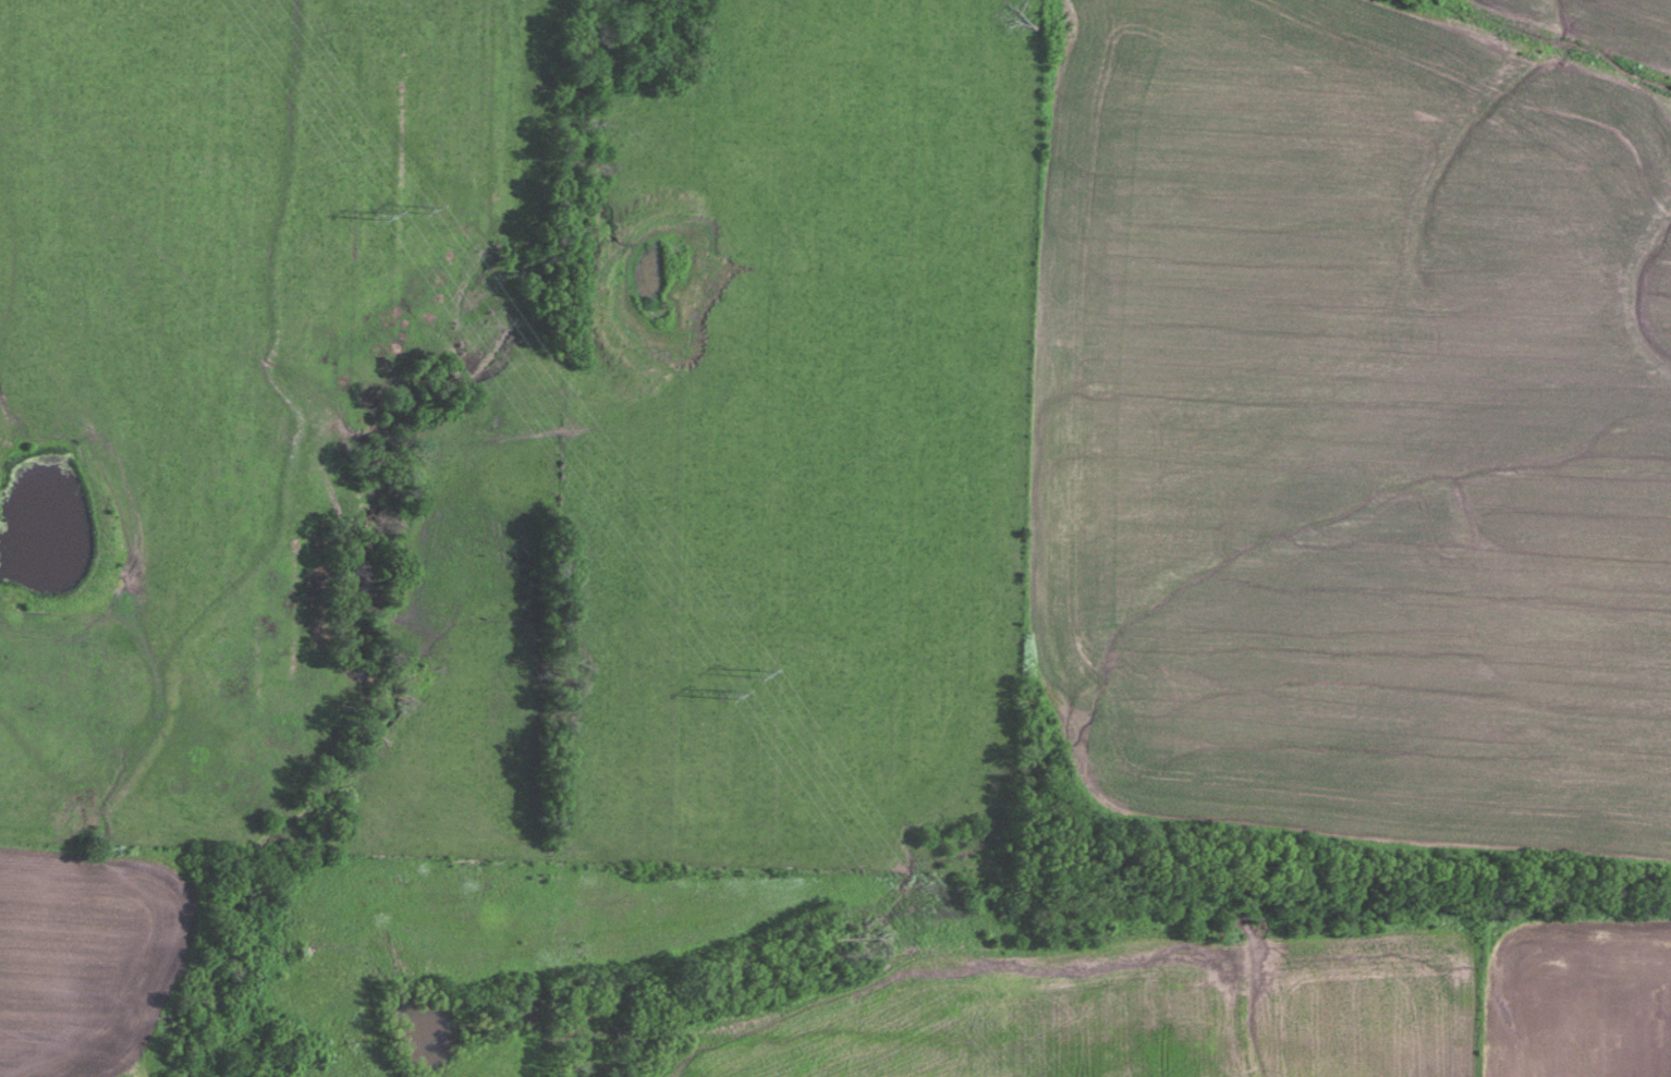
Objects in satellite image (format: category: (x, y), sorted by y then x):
power tower: (416, 205)
power tower: (373, 217)
power tower: (751, 670)
power tower: (715, 693)

